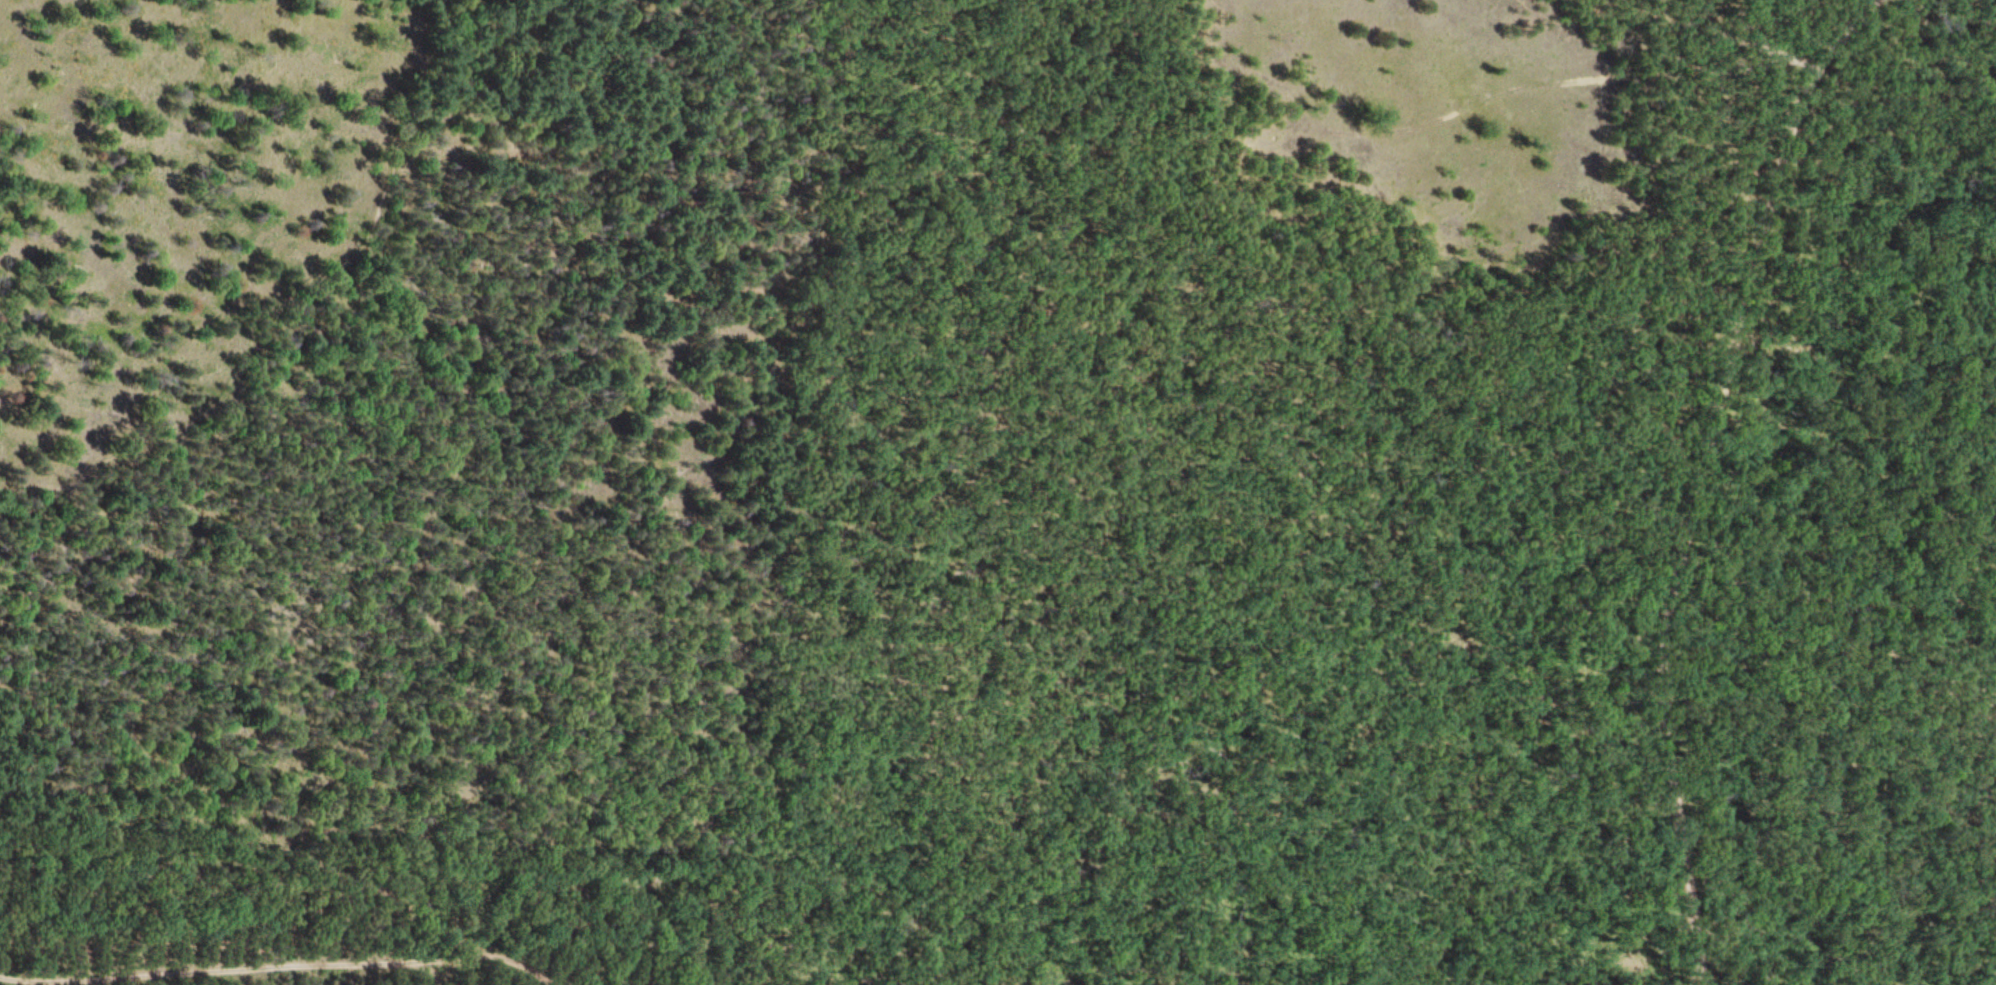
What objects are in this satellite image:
road: (1705, 476)
road: (278, 827)
road: (273, 970)
road: (8, 983)

